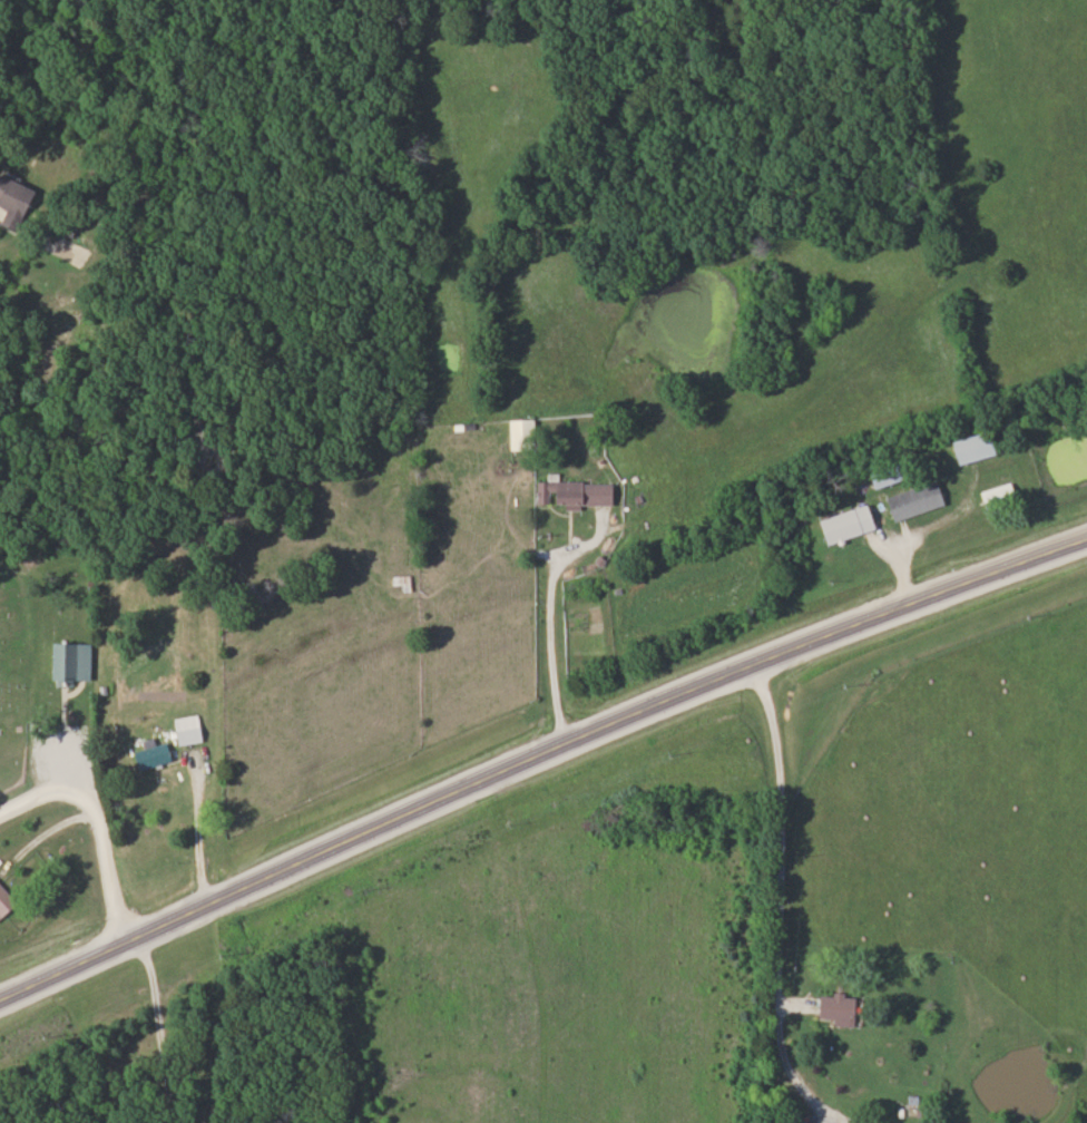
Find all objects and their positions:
building: (17, 202)
building: (525, 433)
building: (980, 447)
building: (891, 473)
building: (578, 492)
building: (1001, 496)
building: (919, 500)
building: (851, 524)
building: (402, 579)
road: (543, 643)
building: (72, 661)
park: (13, 677)
building: (189, 729)
building: (155, 752)
road: (537, 756)
road: (96, 823)
road: (203, 823)
road: (772, 831)
building: (7, 901)
building: (832, 1009)
road: (161, 1025)

